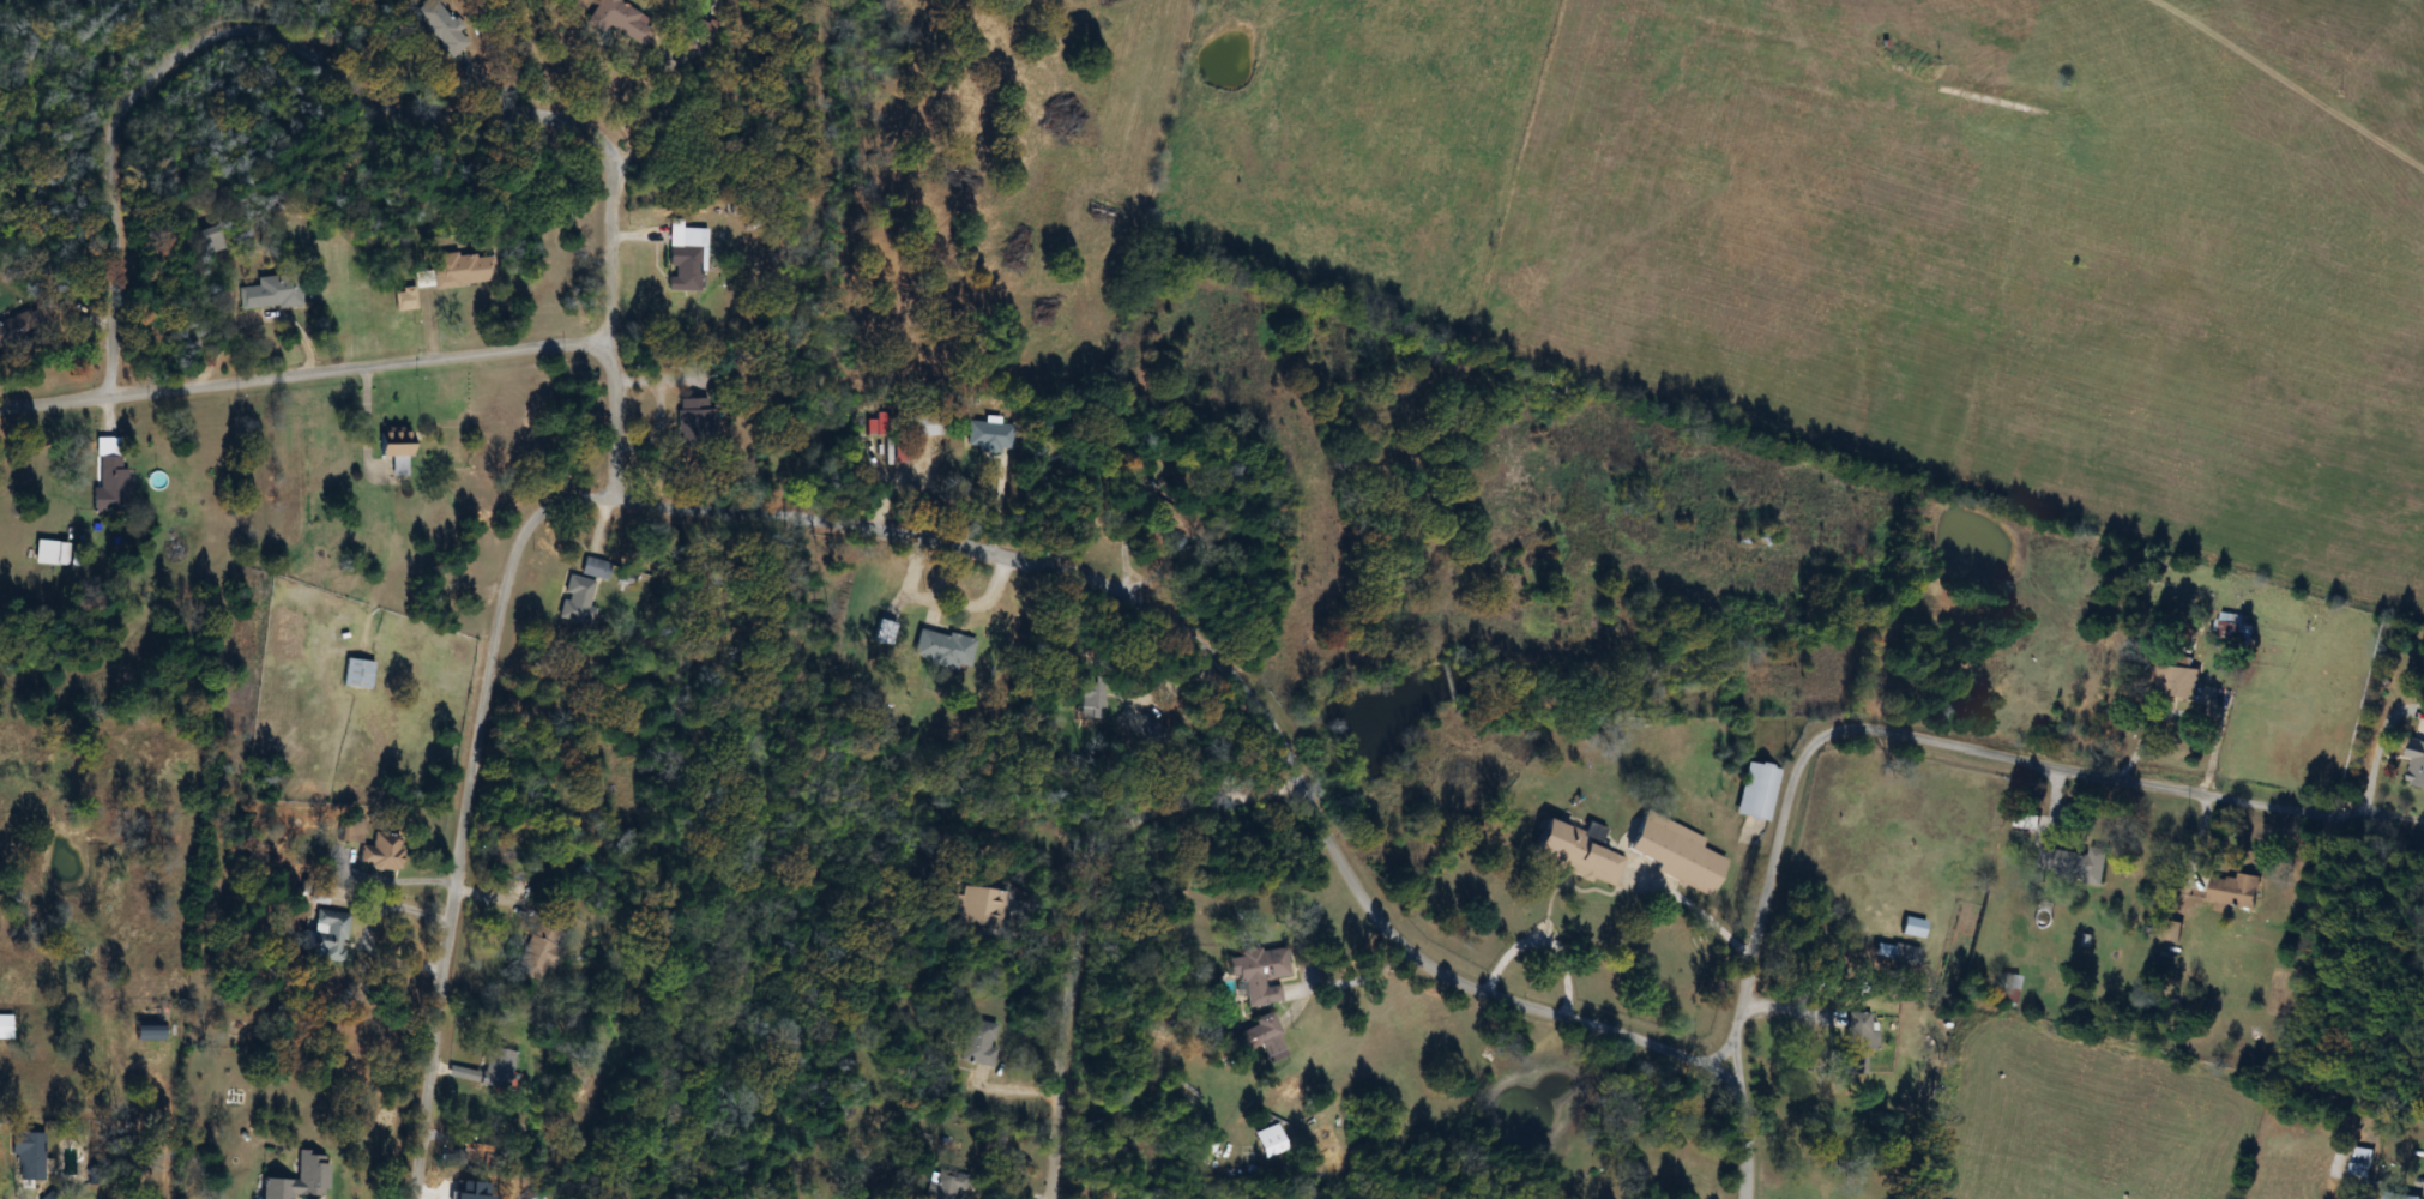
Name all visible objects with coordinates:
building: (620, 22)
building: (446, 25)
building: (697, 41)
road: (316, 55)
building: (211, 240)
building: (683, 259)
building: (462, 270)
building: (270, 294)
building: (12, 332)
road: (304, 376)
building: (693, 422)
road: (613, 423)
building: (924, 426)
building: (988, 438)
building: (392, 450)
building: (108, 484)
building: (48, 554)
building: (579, 595)
building: (2232, 626)
building: (941, 650)
building: (355, 675)
building: (2176, 681)
road: (1237, 683)
building: (1087, 701)
road: (1905, 736)
building: (2416, 763)
building: (1756, 794)
road: (465, 813)
building: (1573, 852)
building: (378, 854)
building: (1672, 854)
building: (2073, 864)
building: (2232, 892)
road: (1699, 906)
road: (1090, 924)
building: (1911, 929)
building: (327, 938)
building: (538, 952)
building: (1894, 956)
road: (1349, 972)
building: (1258, 975)
building: (2008, 984)
building: (146, 1031)
building: (1261, 1036)
building: (1857, 1042)
building: (977, 1043)
building: (493, 1070)
road: (1750, 1132)
building: (30, 1158)
building: (297, 1180)
building: (945, 1186)
building: (2395, 1197)

